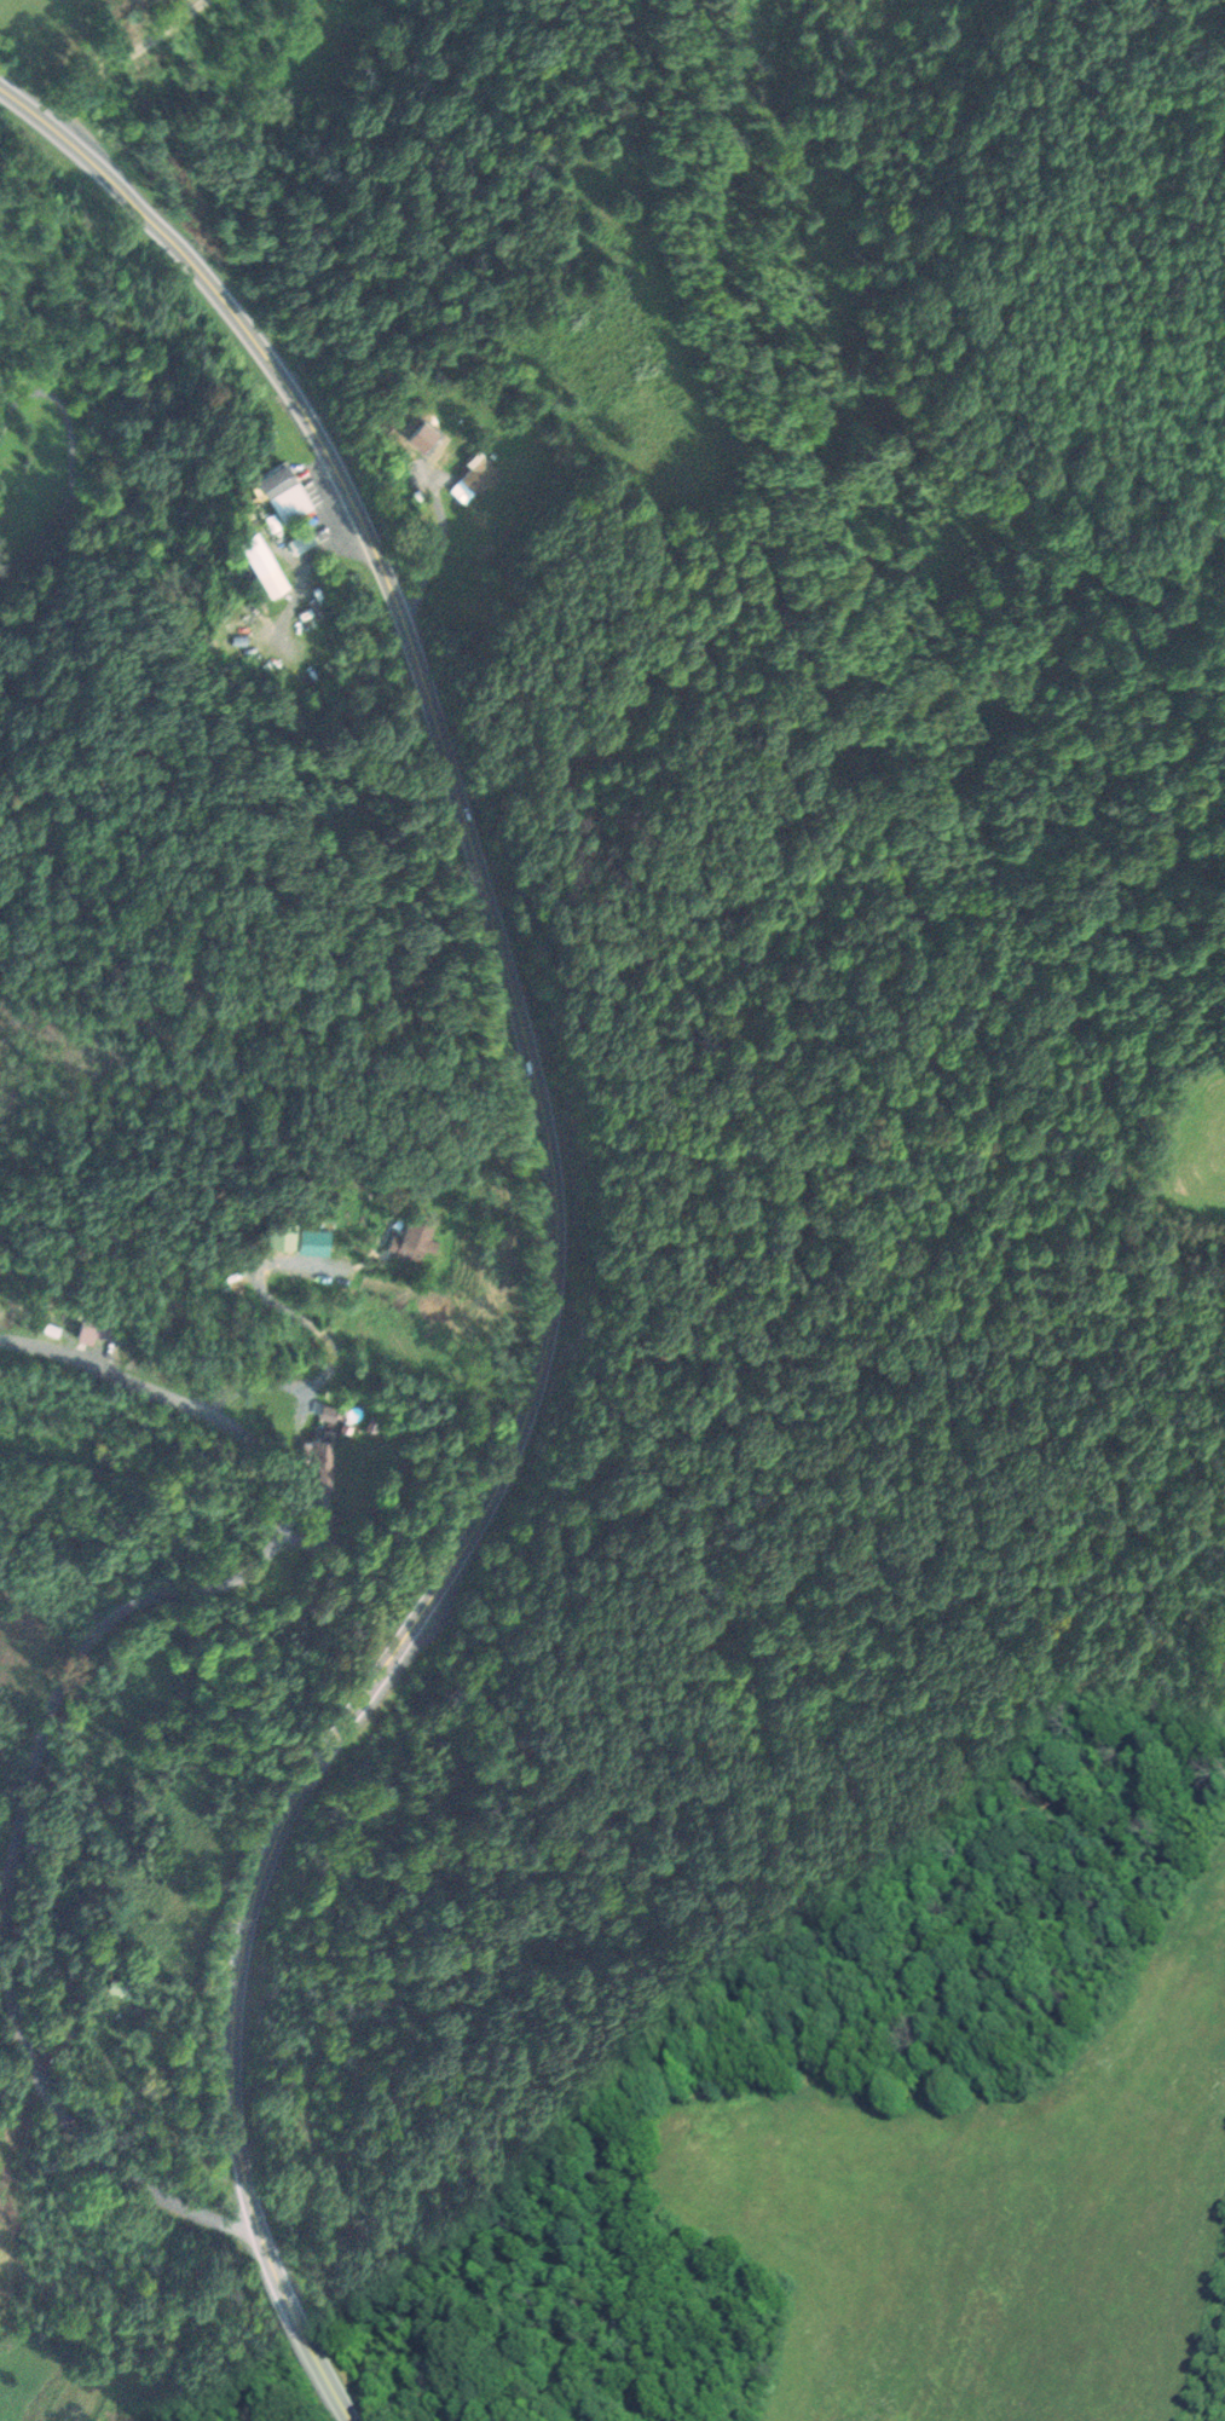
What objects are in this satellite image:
road: (126, 59)
road: (394, 196)
road: (71, 458)
road: (1, 572)
road: (1, 580)
park: (1, 1162)
road: (564, 1223)
road: (56, 1700)

